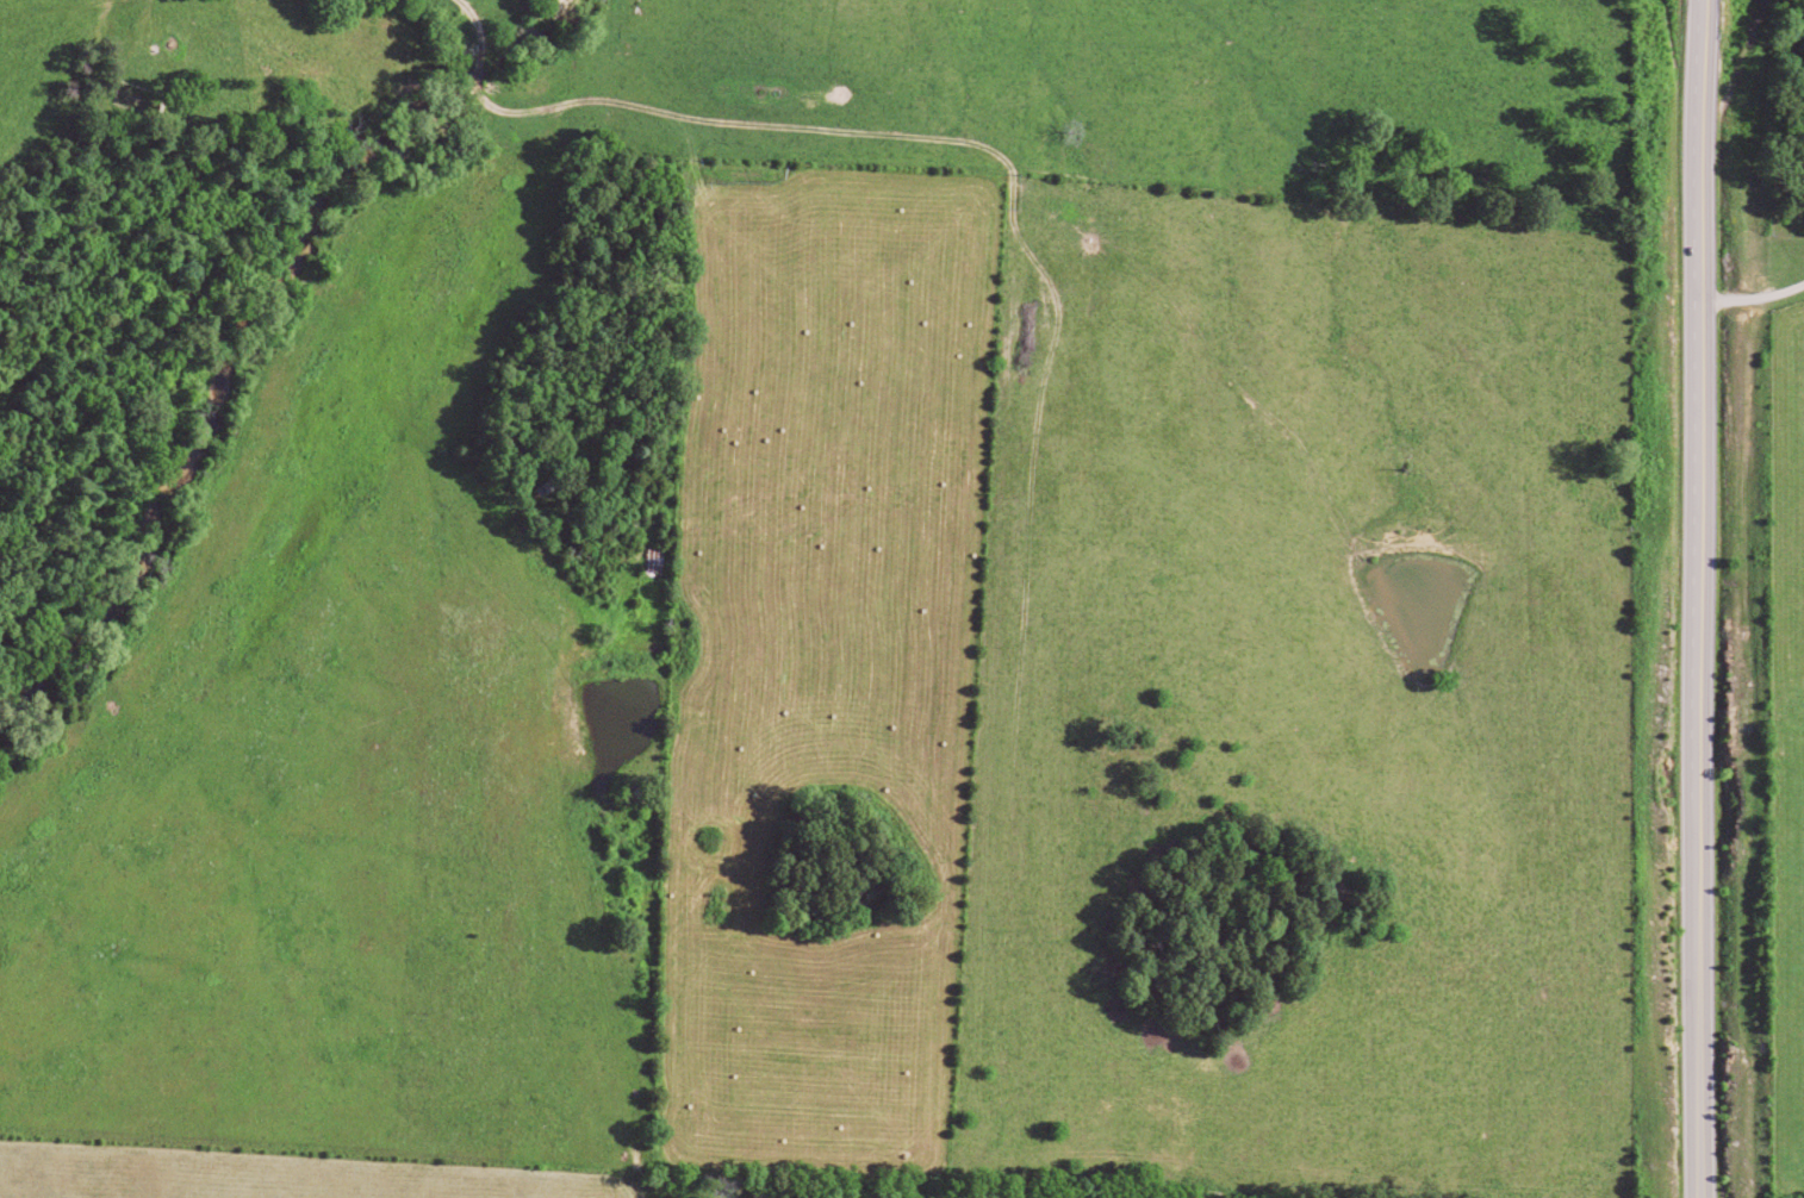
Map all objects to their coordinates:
road: (142, 20)
road: (1698, 599)

